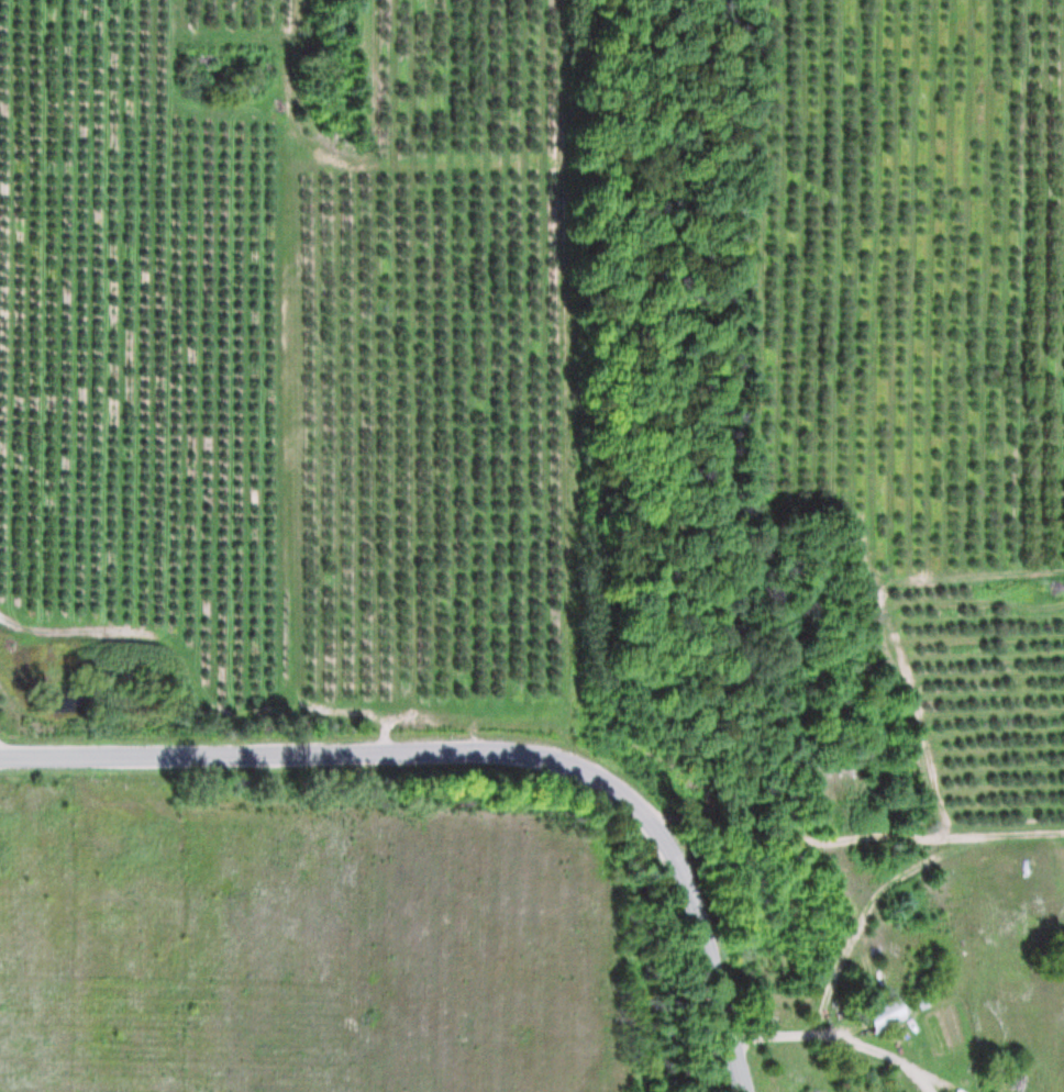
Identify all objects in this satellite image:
road: (479, 749)
building: (890, 1013)
road: (840, 1040)

